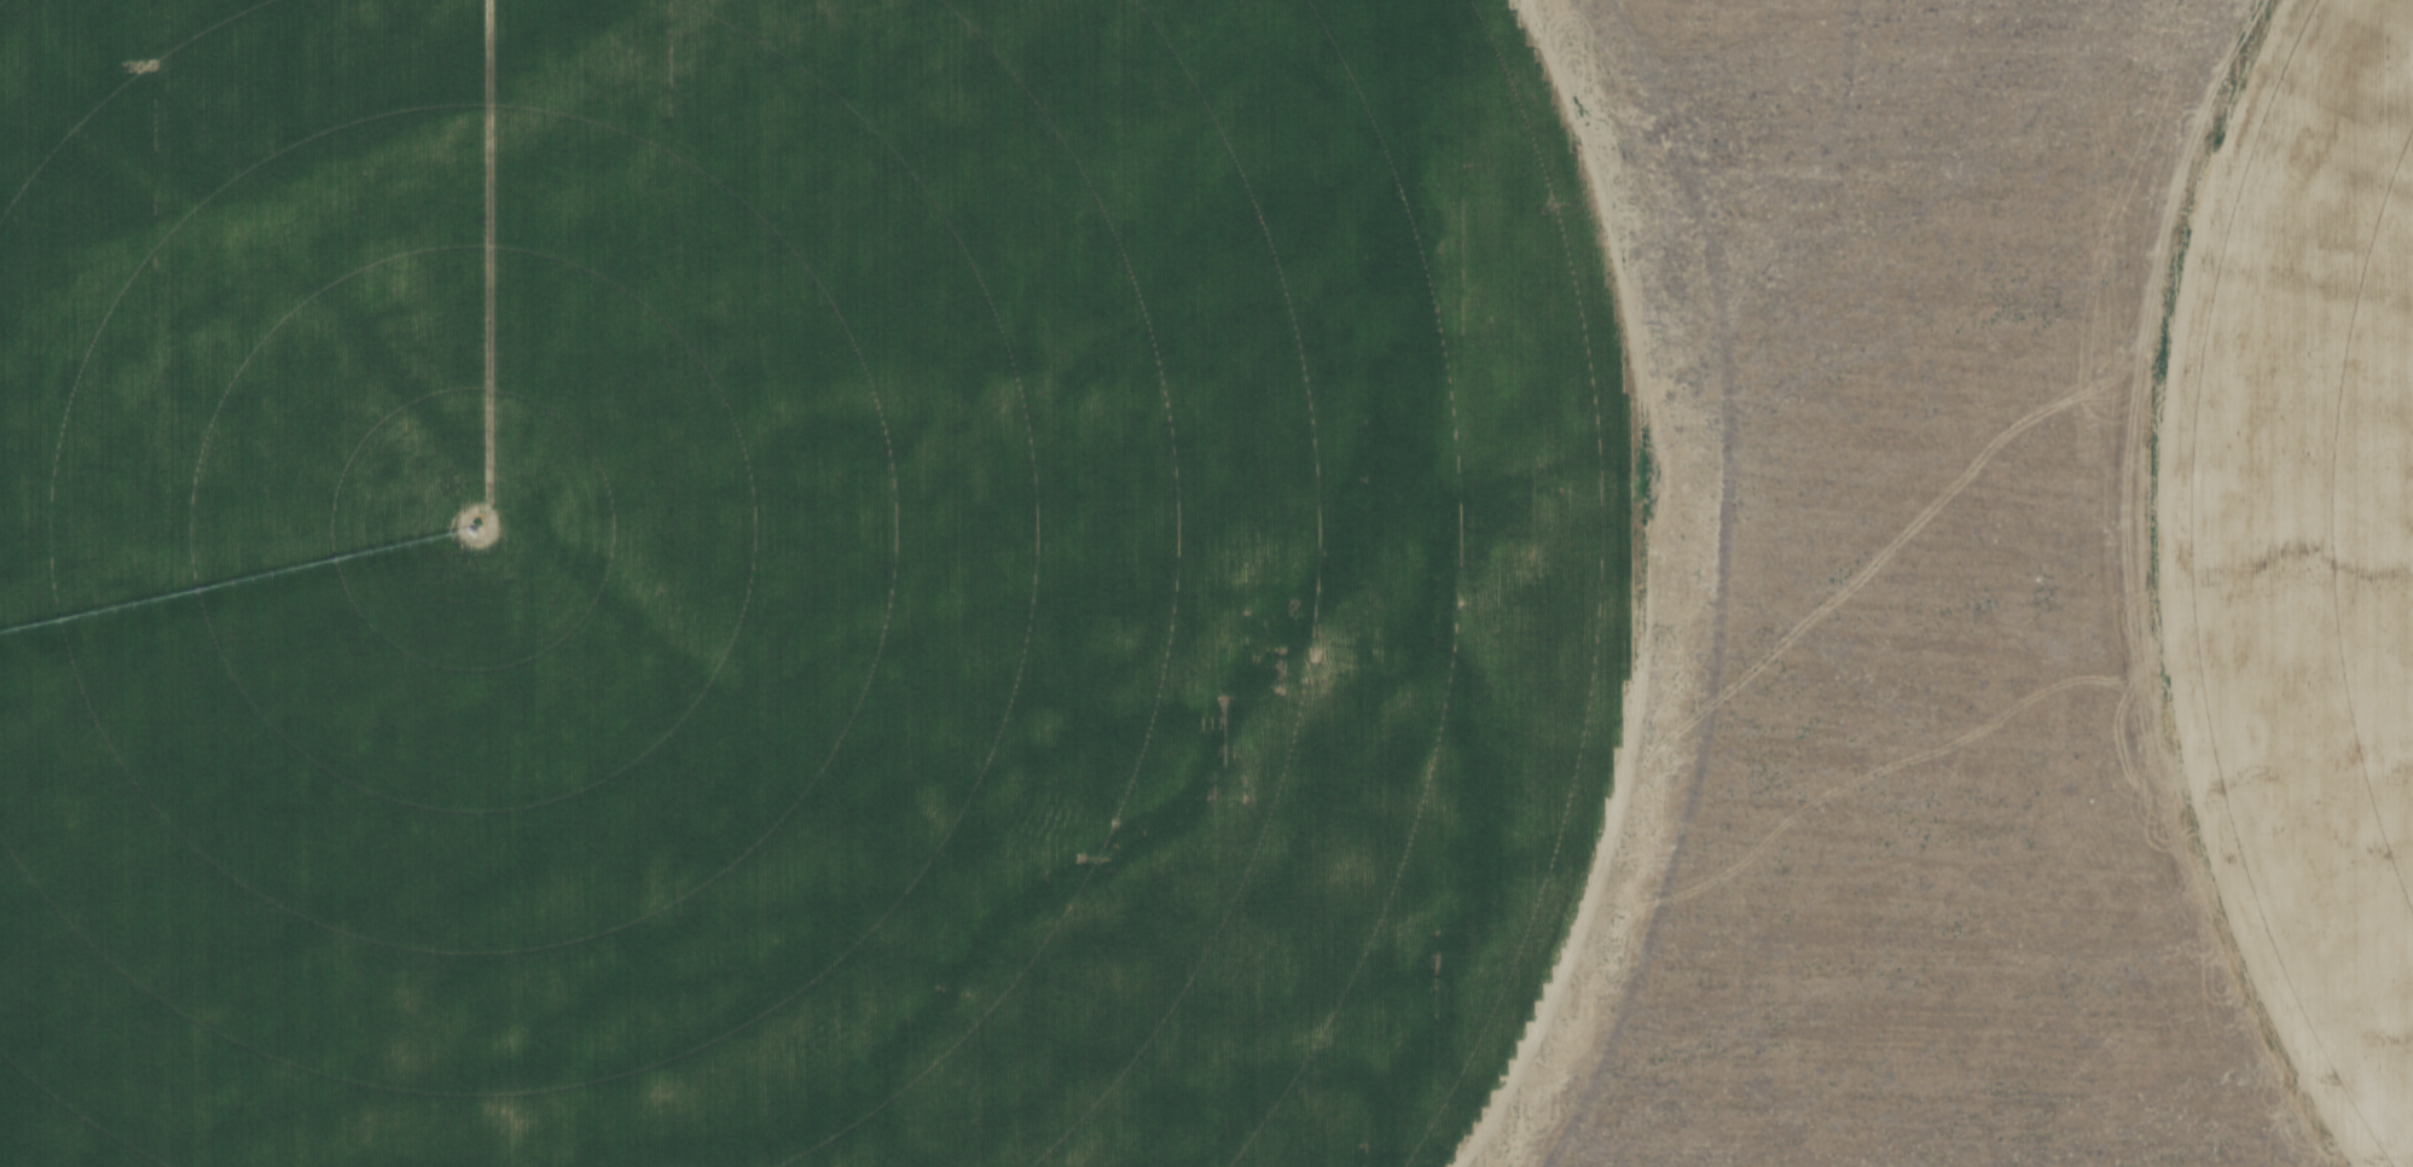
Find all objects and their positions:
crop: (2328, 564)

